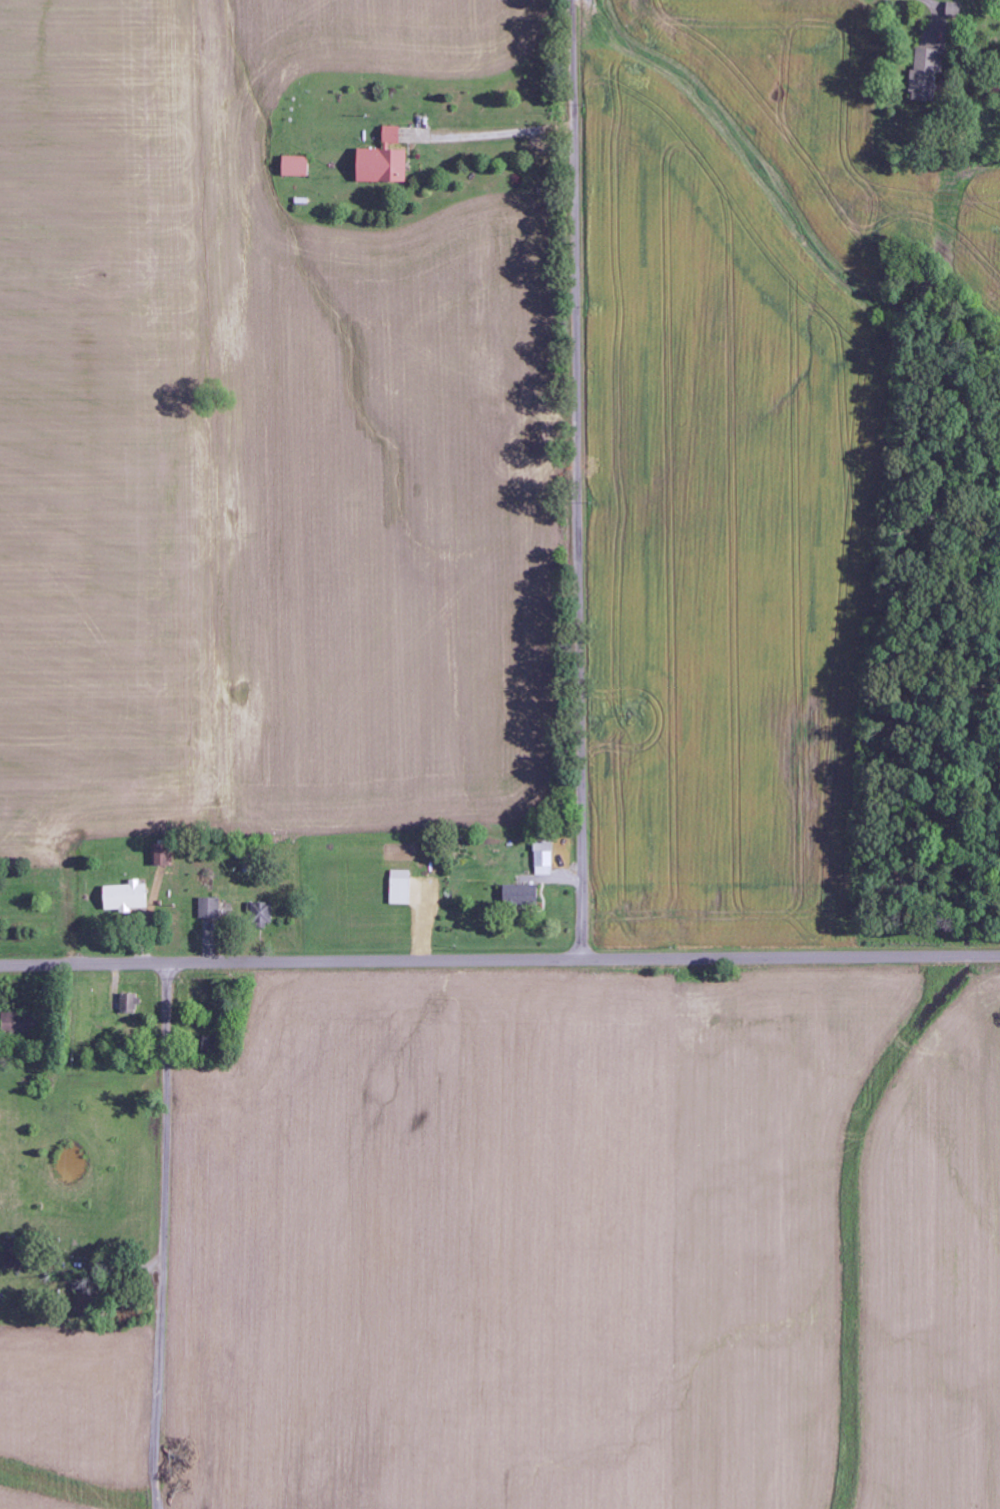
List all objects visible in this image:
building: (955, 10)
building: (927, 75)
road: (737, 91)
building: (393, 135)
building: (296, 166)
building: (384, 166)
road: (578, 479)
building: (163, 855)
building: (544, 858)
building: (402, 887)
building: (522, 895)
building: (128, 897)
building: (211, 908)
building: (262, 914)
road: (499, 959)
building: (131, 1003)
building: (21, 1022)
road: (163, 1236)
building: (15, 1255)

